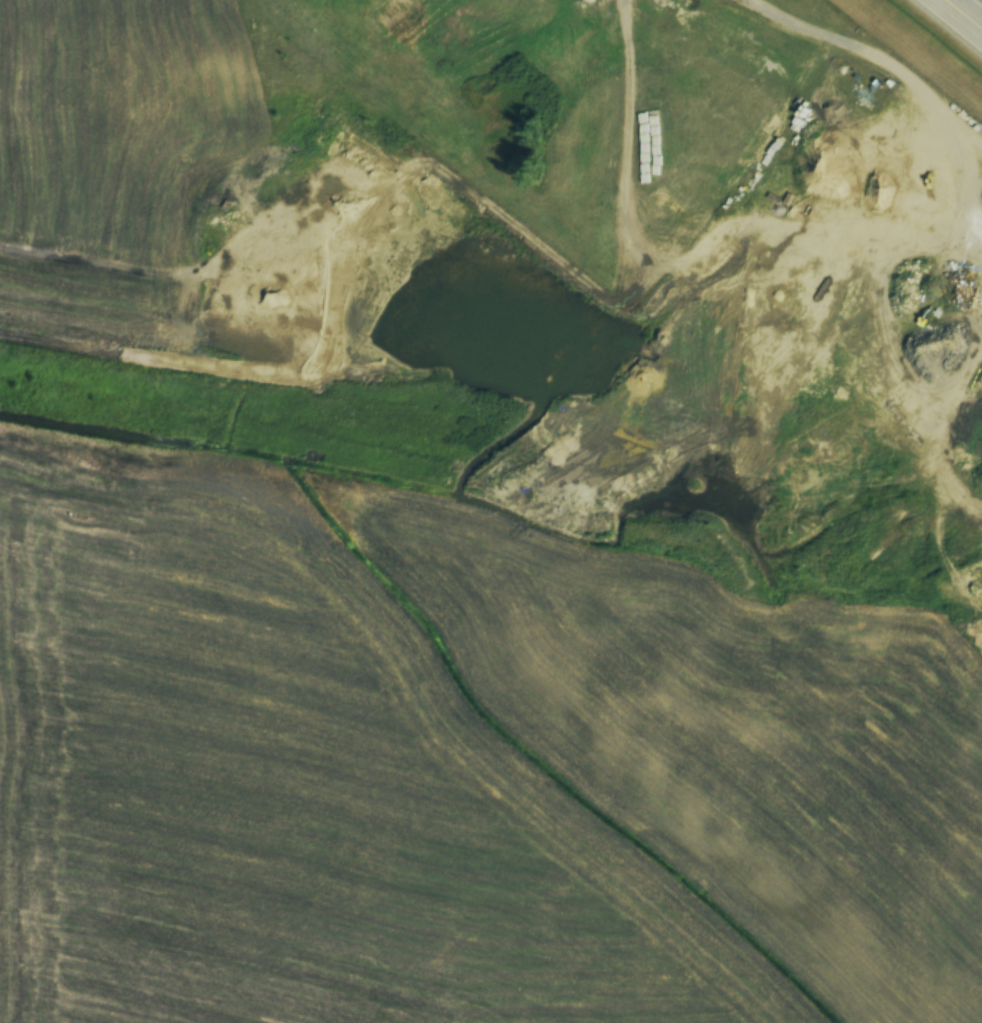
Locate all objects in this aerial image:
road: (963, 15)

